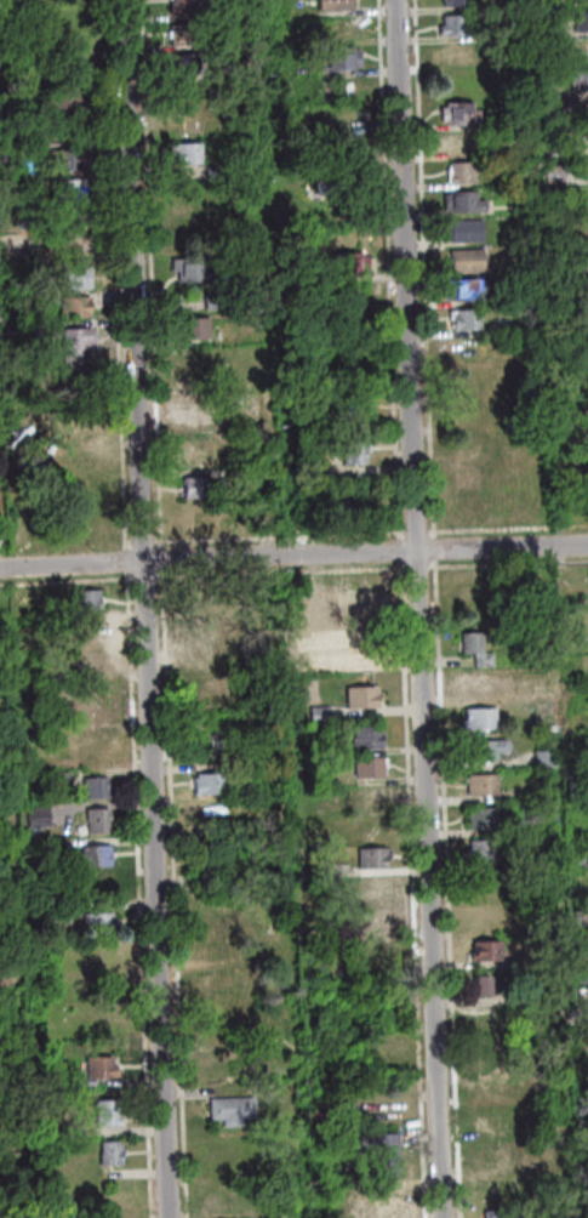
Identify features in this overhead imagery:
building: (577, 0)
building: (453, 1)
building: (332, 4)
building: (182, 7)
building: (580, 19)
building: (451, 24)
building: (341, 28)
building: (543, 29)
building: (182, 34)
building: (461, 55)
building: (339, 57)
building: (181, 62)
building: (578, 78)
building: (65, 97)
building: (6, 108)
building: (456, 113)
building: (342, 115)
building: (187, 121)
building: (587, 133)
building: (457, 142)
building: (343, 146)
building: (182, 152)
building: (7, 155)
building: (64, 159)
building: (584, 167)
building: (213, 171)
building: (458, 171)
building: (336, 183)
building: (67, 188)
building: (326, 197)
building: (459, 201)
building: (192, 204)
building: (249, 215)
building: (69, 217)
building: (583, 226)
building: (462, 229)
building: (7, 237)
building: (80, 237)
building: (70, 247)
building: (584, 255)
building: (464, 258)
building: (348, 262)
building: (188, 268)
road: (421, 269)
road: (384, 271)
road: (113, 275)
building: (74, 277)
road: (148, 277)
building: (583, 284)
building: (462, 290)
building: (258, 301)
building: (211, 303)
building: (72, 306)
building: (583, 313)
building: (462, 318)
building: (508, 326)
building: (193, 328)
building: (41, 329)
building: (583, 345)
building: (466, 349)
building: (72, 353)
building: (193, 370)
building: (581, 375)
building: (474, 381)
building: (347, 404)
building: (587, 404)
building: (469, 412)
building: (189, 417)
building: (75, 421)
building: (315, 421)
building: (584, 433)
building: (475, 444)
building: (350, 450)
building: (194, 451)
building: (82, 460)
building: (318, 468)
building: (468, 477)
building: (199, 486)
building: (337, 508)
building: (473, 512)
building: (80, 519)
road: (507, 528)
road: (413, 531)
road: (278, 536)
road: (126, 543)
road: (141, 543)
road: (430, 548)
road: (395, 550)
road: (293, 556)
road: (159, 559)
road: (124, 560)
road: (506, 563)
road: (415, 567)
road: (353, 569)
road: (155, 576)
road: (141, 577)
building: (587, 579)
road: (65, 581)
building: (367, 592)
building: (475, 594)
building: (82, 599)
building: (587, 604)
road: (417, 608)
road: (143, 609)
building: (89, 631)
building: (356, 645)
building: (559, 647)
building: (472, 649)
building: (473, 684)
building: (217, 691)
building: (587, 695)
building: (361, 696)
building: (86, 707)
building: (316, 715)
building: (475, 718)
building: (41, 727)
building: (365, 736)
building: (212, 739)
building: (96, 747)
building: (480, 749)
building: (542, 758)
building: (365, 767)
building: (55, 776)
building: (206, 782)
building: (478, 784)
building: (573, 785)
building: (92, 787)
building: (366, 797)
building: (206, 813)
building: (35, 815)
building: (479, 818)
building: (95, 820)
building: (371, 826)
building: (52, 847)
building: (0, 850)
building: (476, 852)
building: (92, 855)
building: (370, 856)
building: (573, 859)
building: (204, 861)
building: (98, 886)
road: (410, 888)
road: (444, 888)
building: (372, 889)
road: (171, 893)
road: (136, 894)
building: (341, 904)
building: (57, 913)
building: (6, 915)
building: (577, 916)
building: (95, 922)
building: (373, 923)
building: (335, 940)
building: (211, 945)
building: (479, 951)
building: (526, 964)
building: (578, 977)
building: (2, 979)
building: (215, 981)
building: (476, 986)
building: (526, 997)
building: (213, 1014)
building: (0, 1018)
building: (219, 1053)
building: (487, 1055)
building: (527, 1065)
building: (97, 1068)
building: (491, 1085)
building: (581, 1104)
building: (229, 1109)
building: (102, 1112)
building: (387, 1112)
building: (497, 1121)
building: (379, 1151)
building: (108, 1152)
building: (490, 1152)
building: (530, 1165)
building: (360, 1185)
building: (582, 1189)
building: (496, 1190)
building: (219, 1199)
building: (109, 1201)
building: (386, 1207)
building: (492, 1213)

